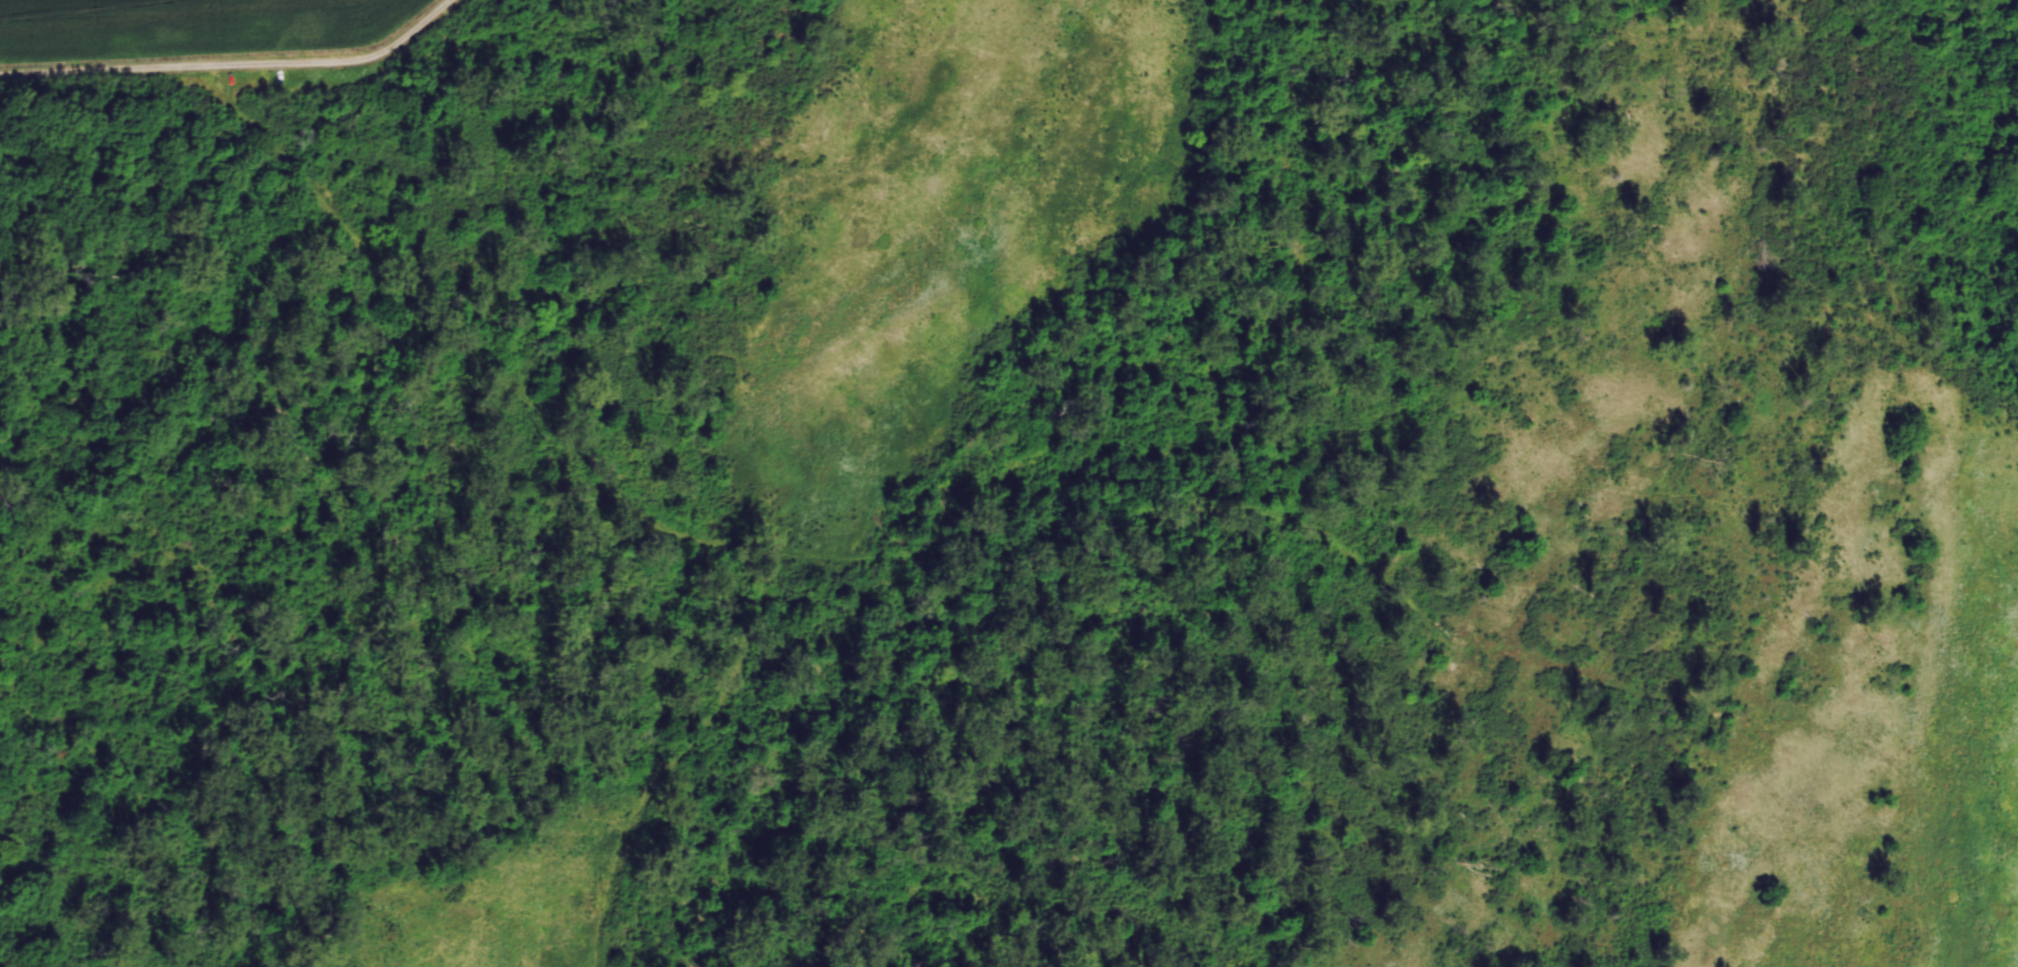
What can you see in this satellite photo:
crop: (172, 20)
road: (350, 61)
road: (114, 69)
road: (487, 370)

